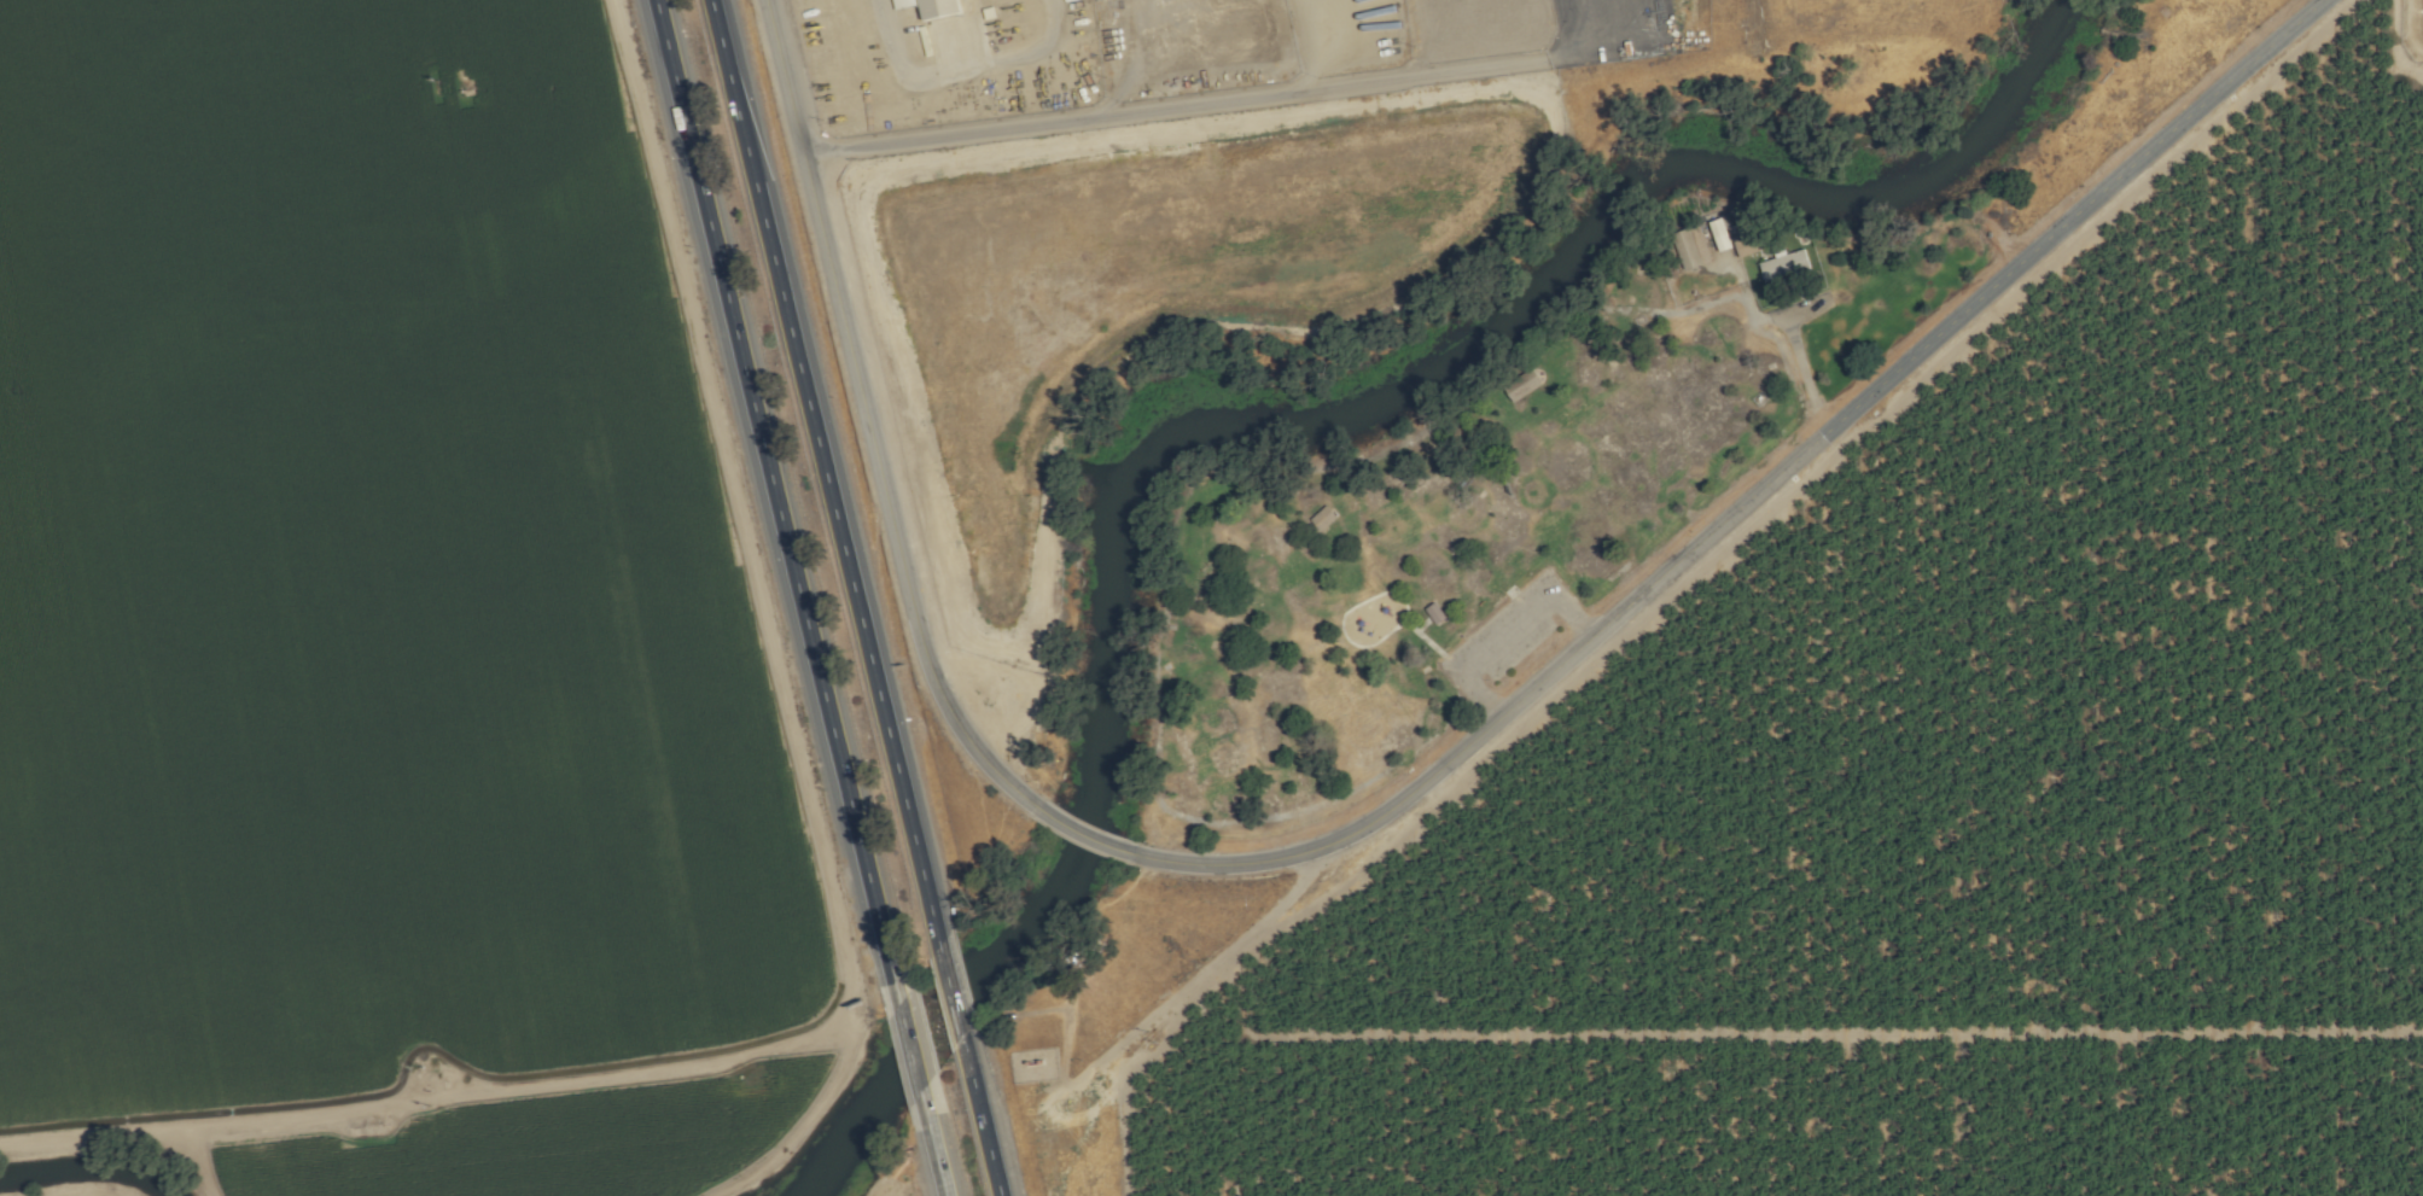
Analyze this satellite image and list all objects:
building: (927, 7)
road: (1324, 41)
road: (1119, 54)
road: (956, 60)
road: (1219, 98)
building: (1717, 234)
building: (1690, 246)
building: (1782, 266)
road: (1795, 349)
road: (864, 416)
road: (823, 471)
road: (1755, 494)
road: (775, 498)
building: (1321, 517)
crop: (1941, 794)
road: (1078, 833)
road: (1207, 968)
road: (953, 998)
road: (911, 1060)
road: (983, 1126)
road: (936, 1159)

